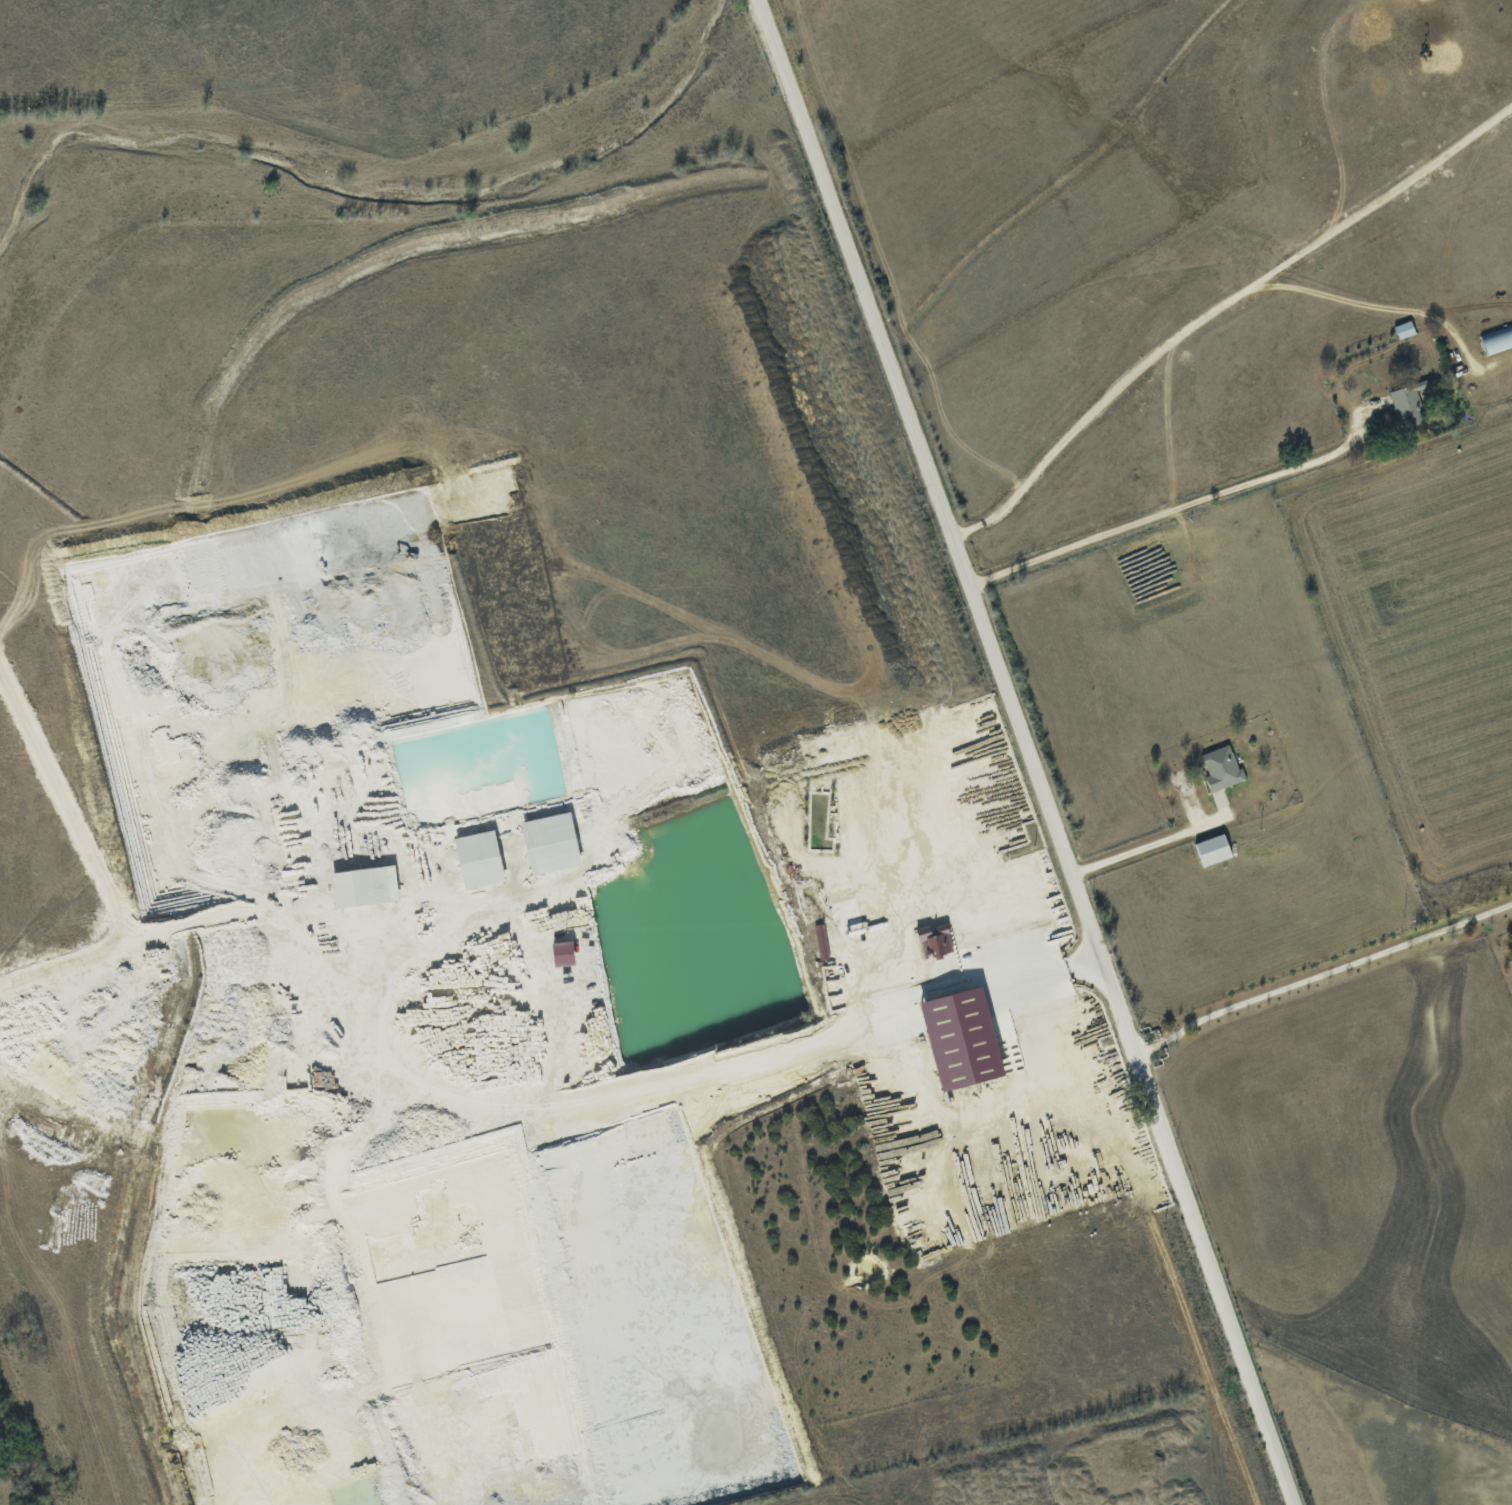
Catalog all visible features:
road: (1381, 308)
road: (1222, 316)
building: (1498, 340)
building: (1406, 405)
road: (1168, 509)
road: (1221, 546)
road: (1027, 752)
building: (1221, 767)
building: (551, 843)
building: (1213, 849)
road: (1134, 850)
building: (479, 859)
building: (364, 886)
building: (935, 940)
building: (821, 941)
building: (563, 953)
road: (1321, 974)
quarry: (505, 1026)
building: (962, 1038)

